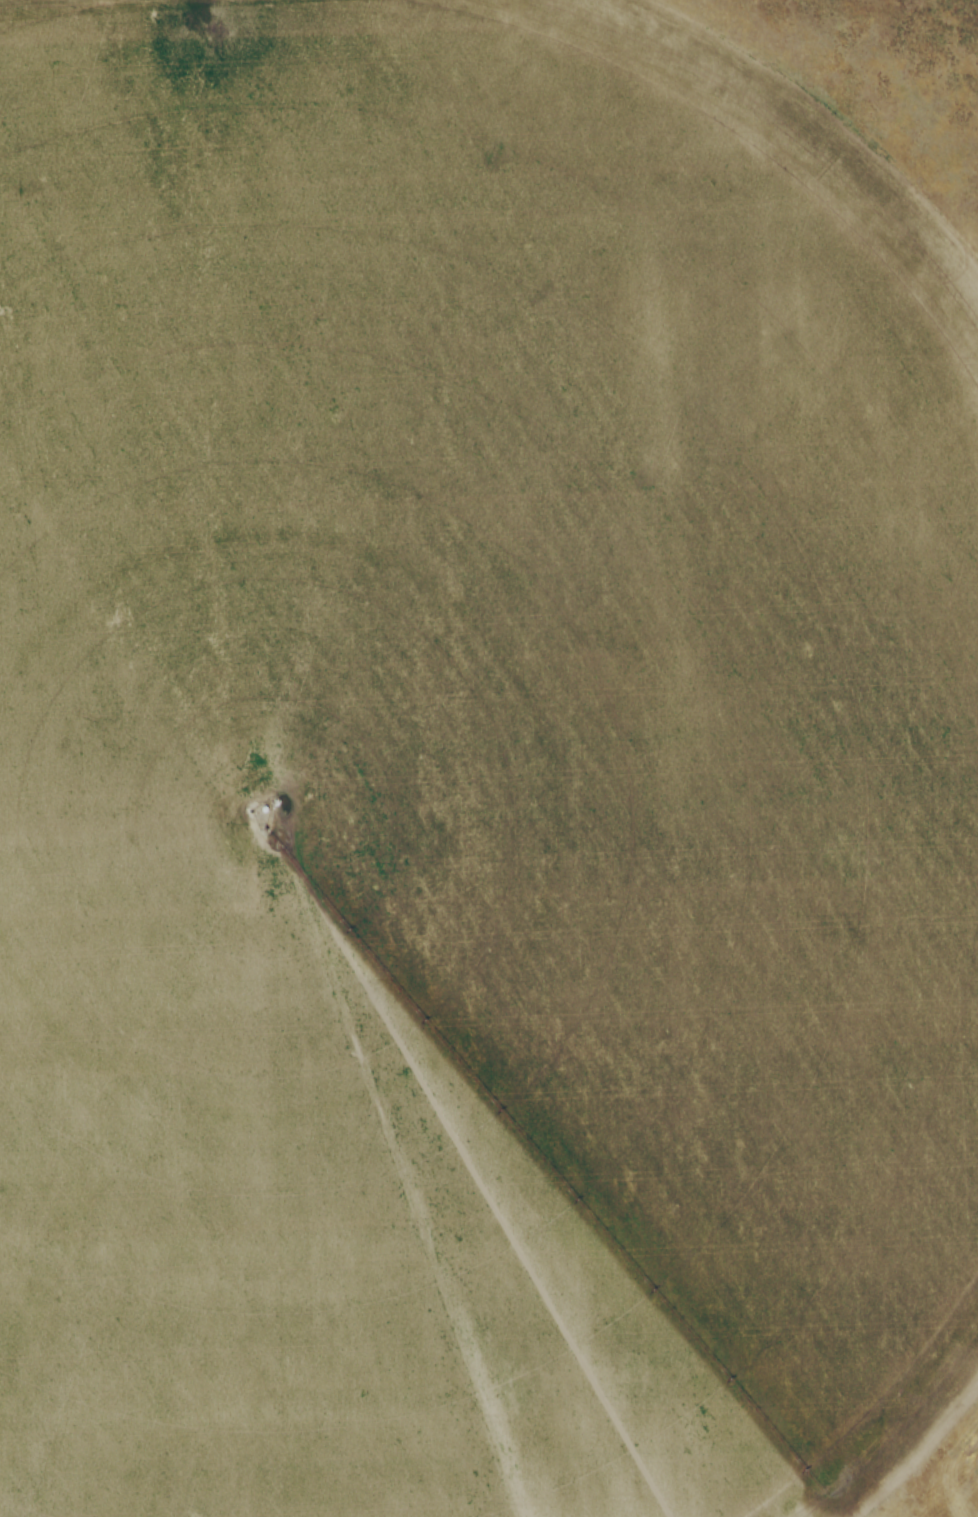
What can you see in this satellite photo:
crop: (475, 774)

